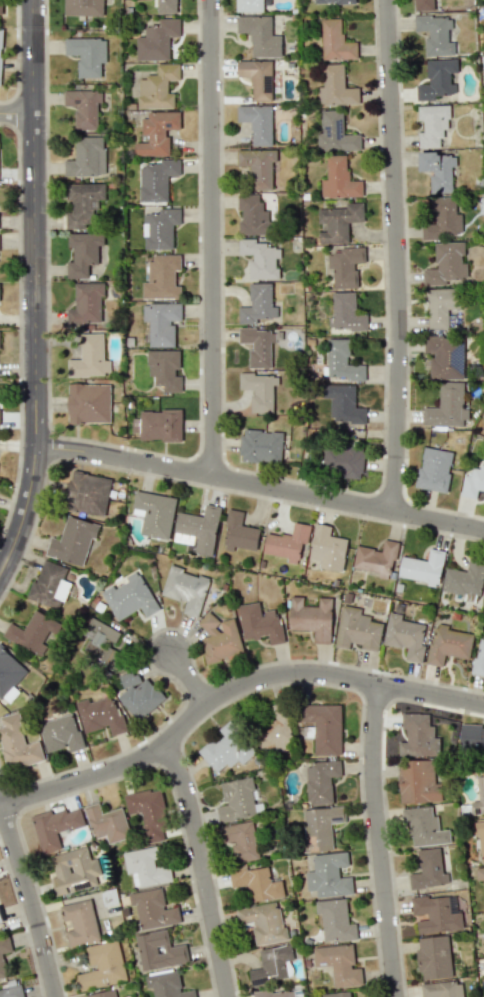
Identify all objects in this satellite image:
building: (333, 1)
building: (249, 5)
building: (423, 5)
building: (0, 6)
building: (167, 6)
building: (83, 7)
building: (435, 34)
building: (260, 35)
building: (157, 40)
building: (335, 41)
building: (0, 50)
building: (87, 55)
road: (15, 56)
building: (257, 78)
building: (437, 79)
building: (157, 87)
building: (335, 87)
building: (83, 107)
road: (17, 115)
building: (257, 122)
building: (432, 124)
building: (156, 133)
building: (335, 133)
building: (86, 157)
building: (258, 166)
building: (438, 170)
building: (156, 179)
building: (339, 179)
building: (82, 204)
building: (251, 214)
building: (443, 218)
building: (338, 222)
building: (159, 227)
road: (212, 238)
building: (83, 253)
road: (399, 256)
building: (260, 258)
building: (447, 265)
building: (345, 266)
building: (162, 278)
road: (36, 292)
building: (86, 303)
building: (257, 304)
building: (440, 306)
building: (345, 313)
building: (161, 322)
building: (258, 346)
building: (444, 356)
building: (89, 357)
building: (341, 361)
building: (165, 369)
building: (258, 390)
building: (88, 403)
building: (343, 404)
building: (447, 406)
building: (158, 425)
building: (261, 445)
building: (342, 461)
building: (434, 469)
building: (473, 482)
road: (260, 486)
building: (87, 493)
building: (483, 498)
building: (155, 514)
building: (197, 530)
building: (239, 533)
building: (73, 540)
building: (288, 542)
building: (327, 548)
building: (376, 559)
building: (422, 567)
building: (465, 581)
building: (50, 585)
building: (186, 589)
building: (130, 597)
building: (312, 618)
building: (260, 623)
building: (357, 629)
building: (33, 633)
building: (405, 636)
building: (220, 639)
building: (100, 640)
building: (448, 644)
building: (479, 658)
building: (9, 676)
road: (190, 678)
road: (230, 689)
building: (138, 694)
building: (99, 715)
building: (324, 727)
building: (274, 729)
building: (61, 733)
building: (418, 736)
building: (471, 738)
building: (17, 744)
building: (226, 748)
building: (320, 781)
building: (418, 781)
building: (479, 797)
building: (237, 799)
road: (0, 803)
building: (148, 813)
building: (107, 823)
building: (55, 827)
building: (320, 827)
building: (424, 827)
building: (479, 836)
building: (241, 840)
road: (383, 840)
road: (204, 866)
building: (145, 867)
building: (428, 869)
building: (71, 871)
building: (480, 873)
building: (328, 875)
building: (256, 883)
road: (31, 897)
building: (153, 908)
building: (435, 914)
building: (0, 916)
building: (335, 920)
building: (80, 922)
building: (263, 922)
building: (159, 950)
building: (4, 956)
building: (433, 957)
building: (483, 959)
building: (272, 964)
building: (339, 964)
building: (102, 965)
building: (167, 985)
building: (441, 989)
building: (274, 993)
building: (103, 994)
building: (336, 994)

